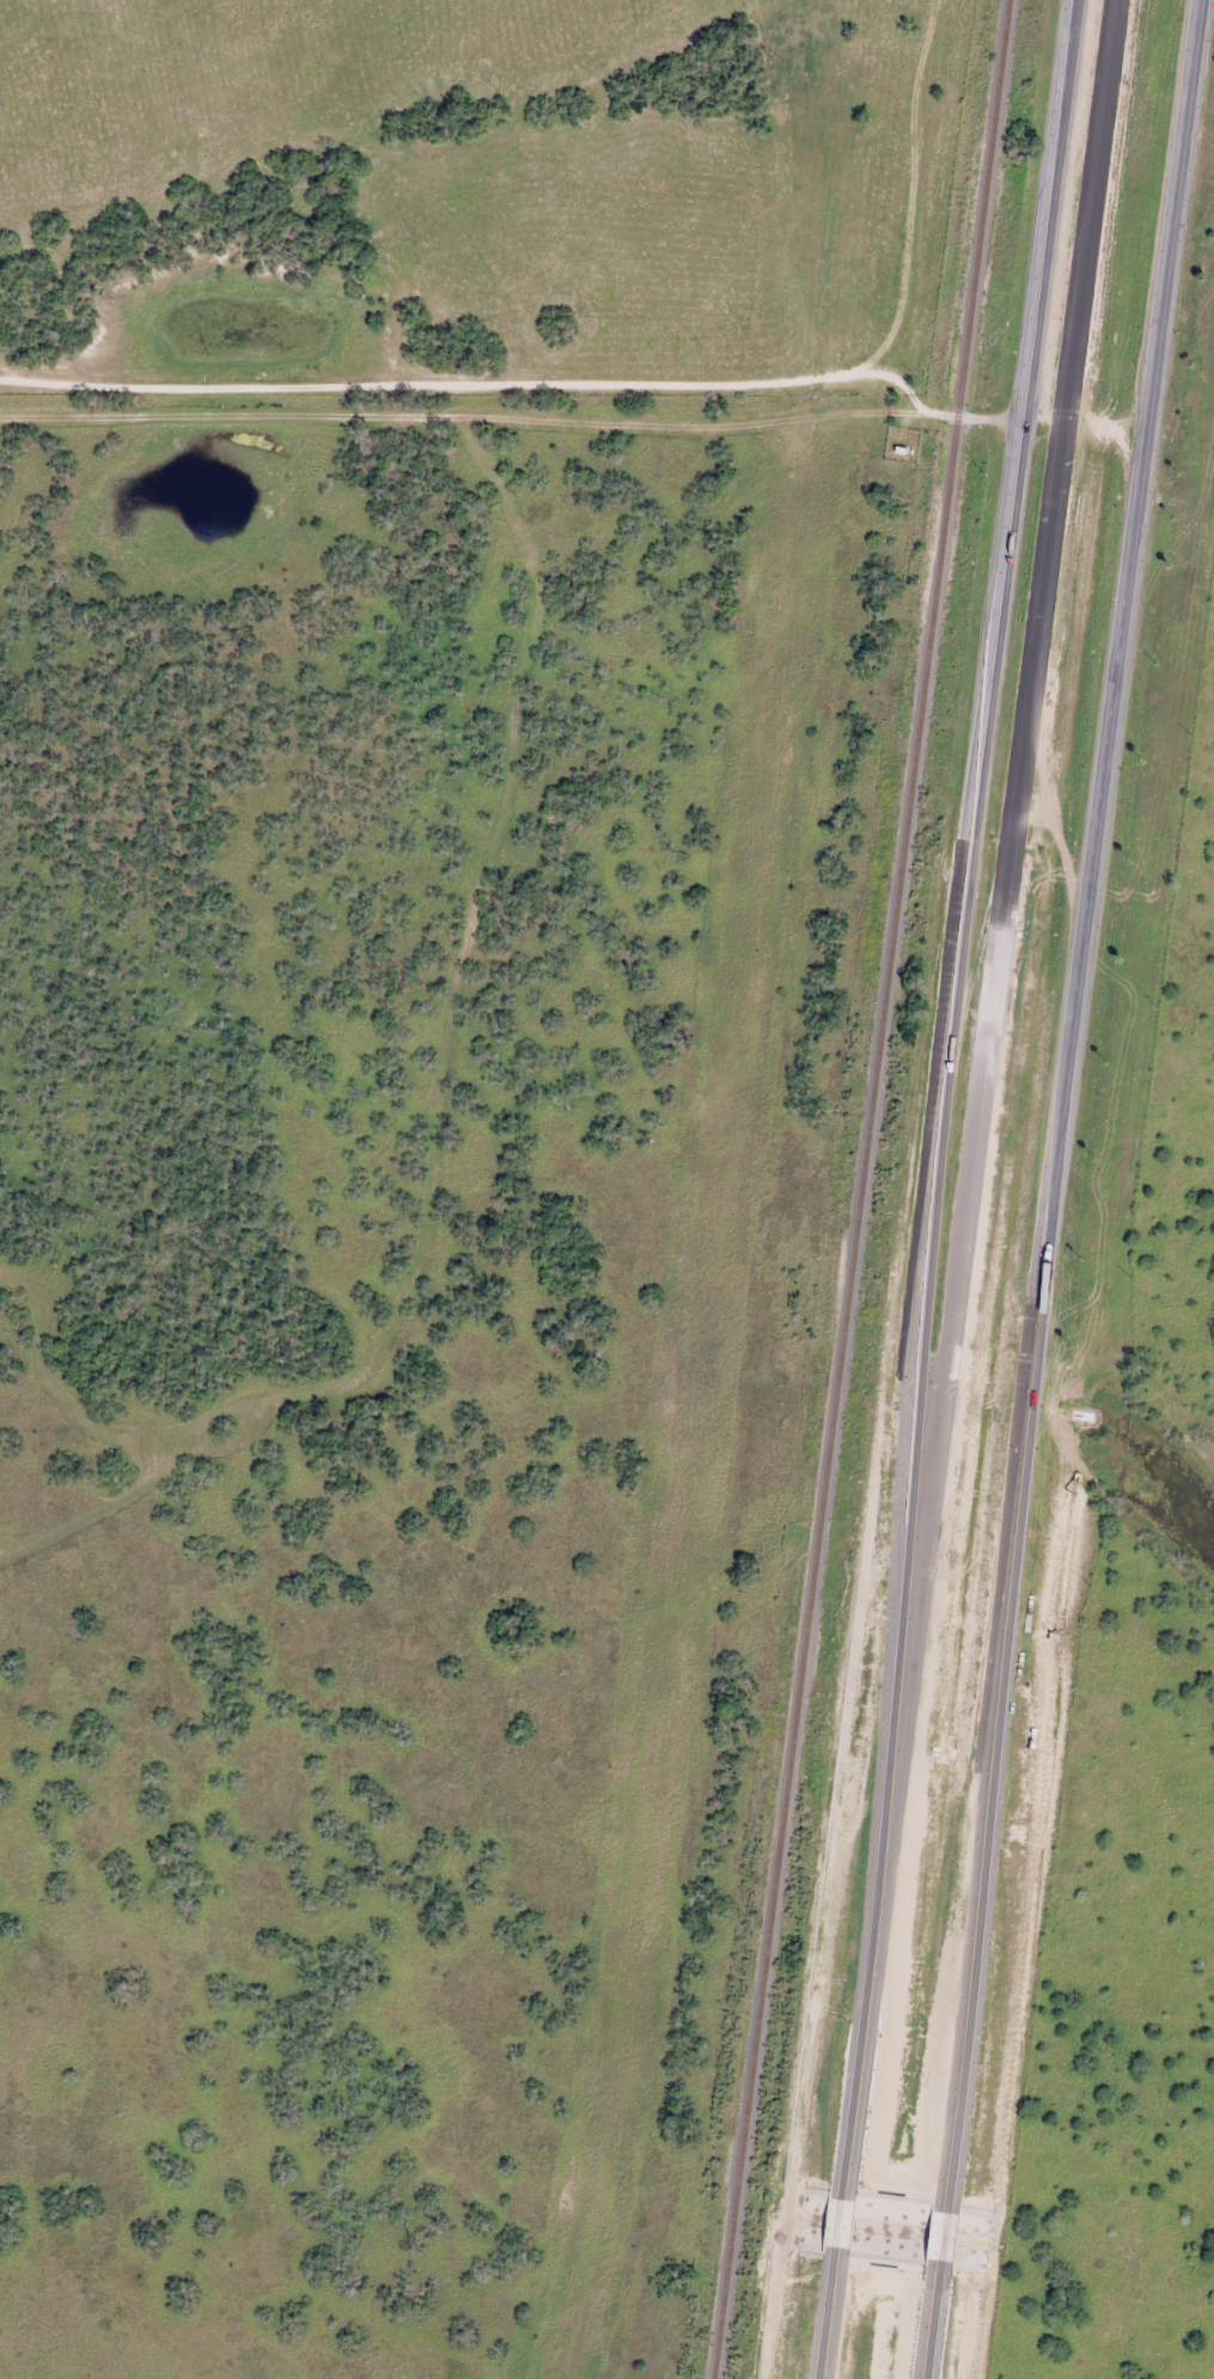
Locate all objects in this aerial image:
road: (1045, 209)
road: (477, 407)
road: (988, 416)
road: (1005, 547)
road: (1008, 856)
road: (1059, 1096)
railway: (859, 1188)
road: (933, 1192)
road: (871, 1947)
road: (837, 2219)
road: (944, 2228)
road: (825, 2317)
road: (933, 2320)

